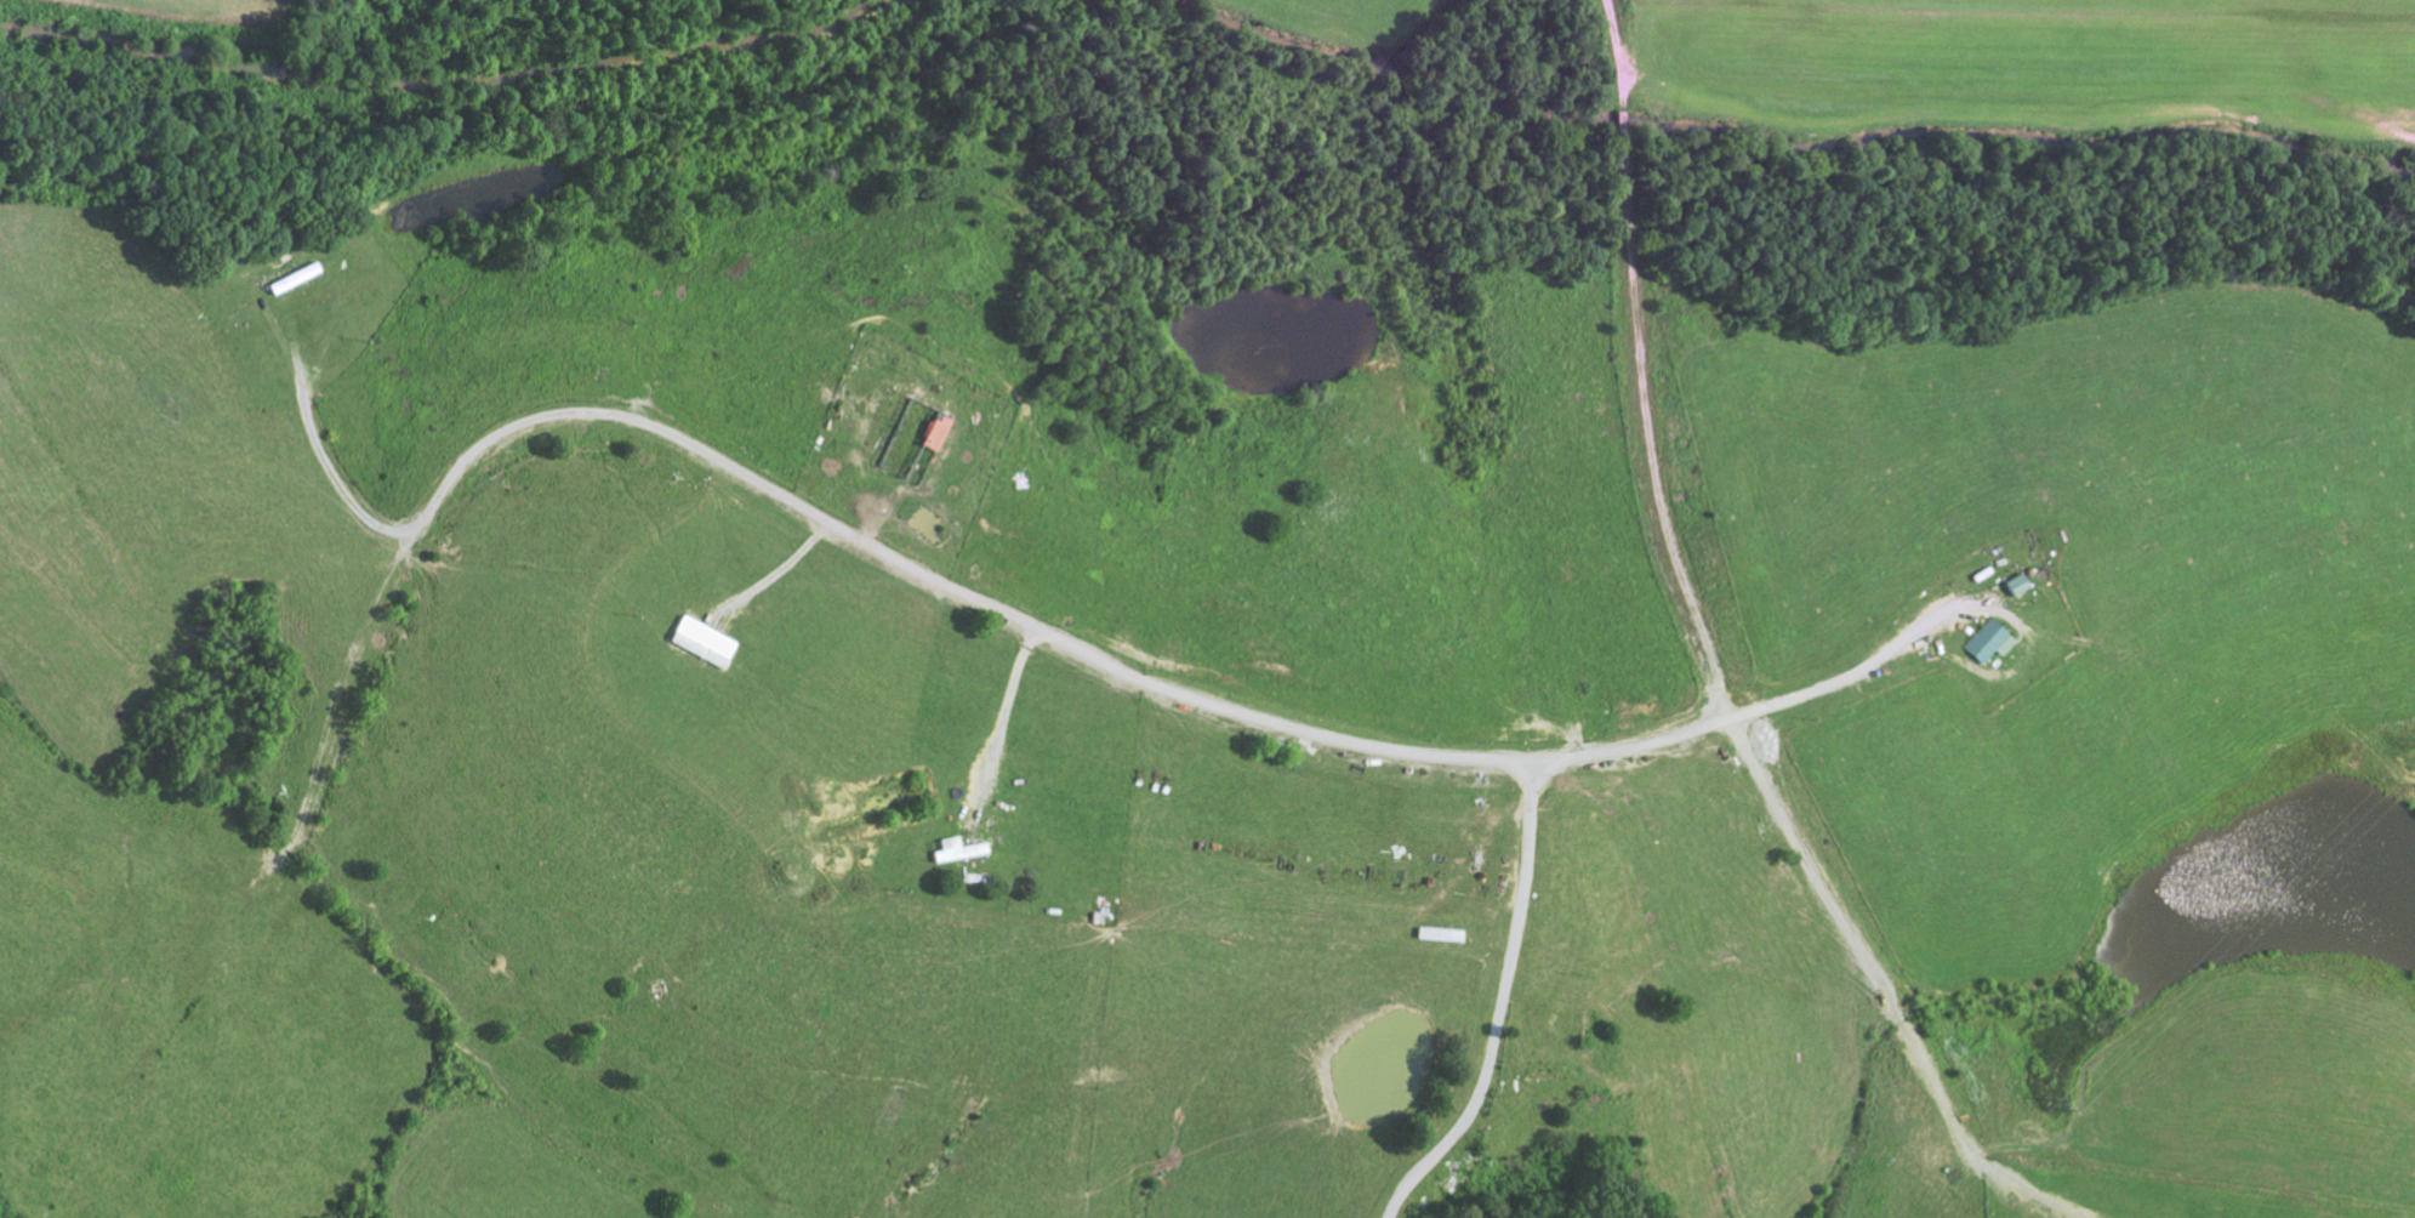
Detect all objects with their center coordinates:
building: (933, 431)
building: (2016, 585)
building: (1988, 641)
building: (701, 642)
building: (956, 850)

